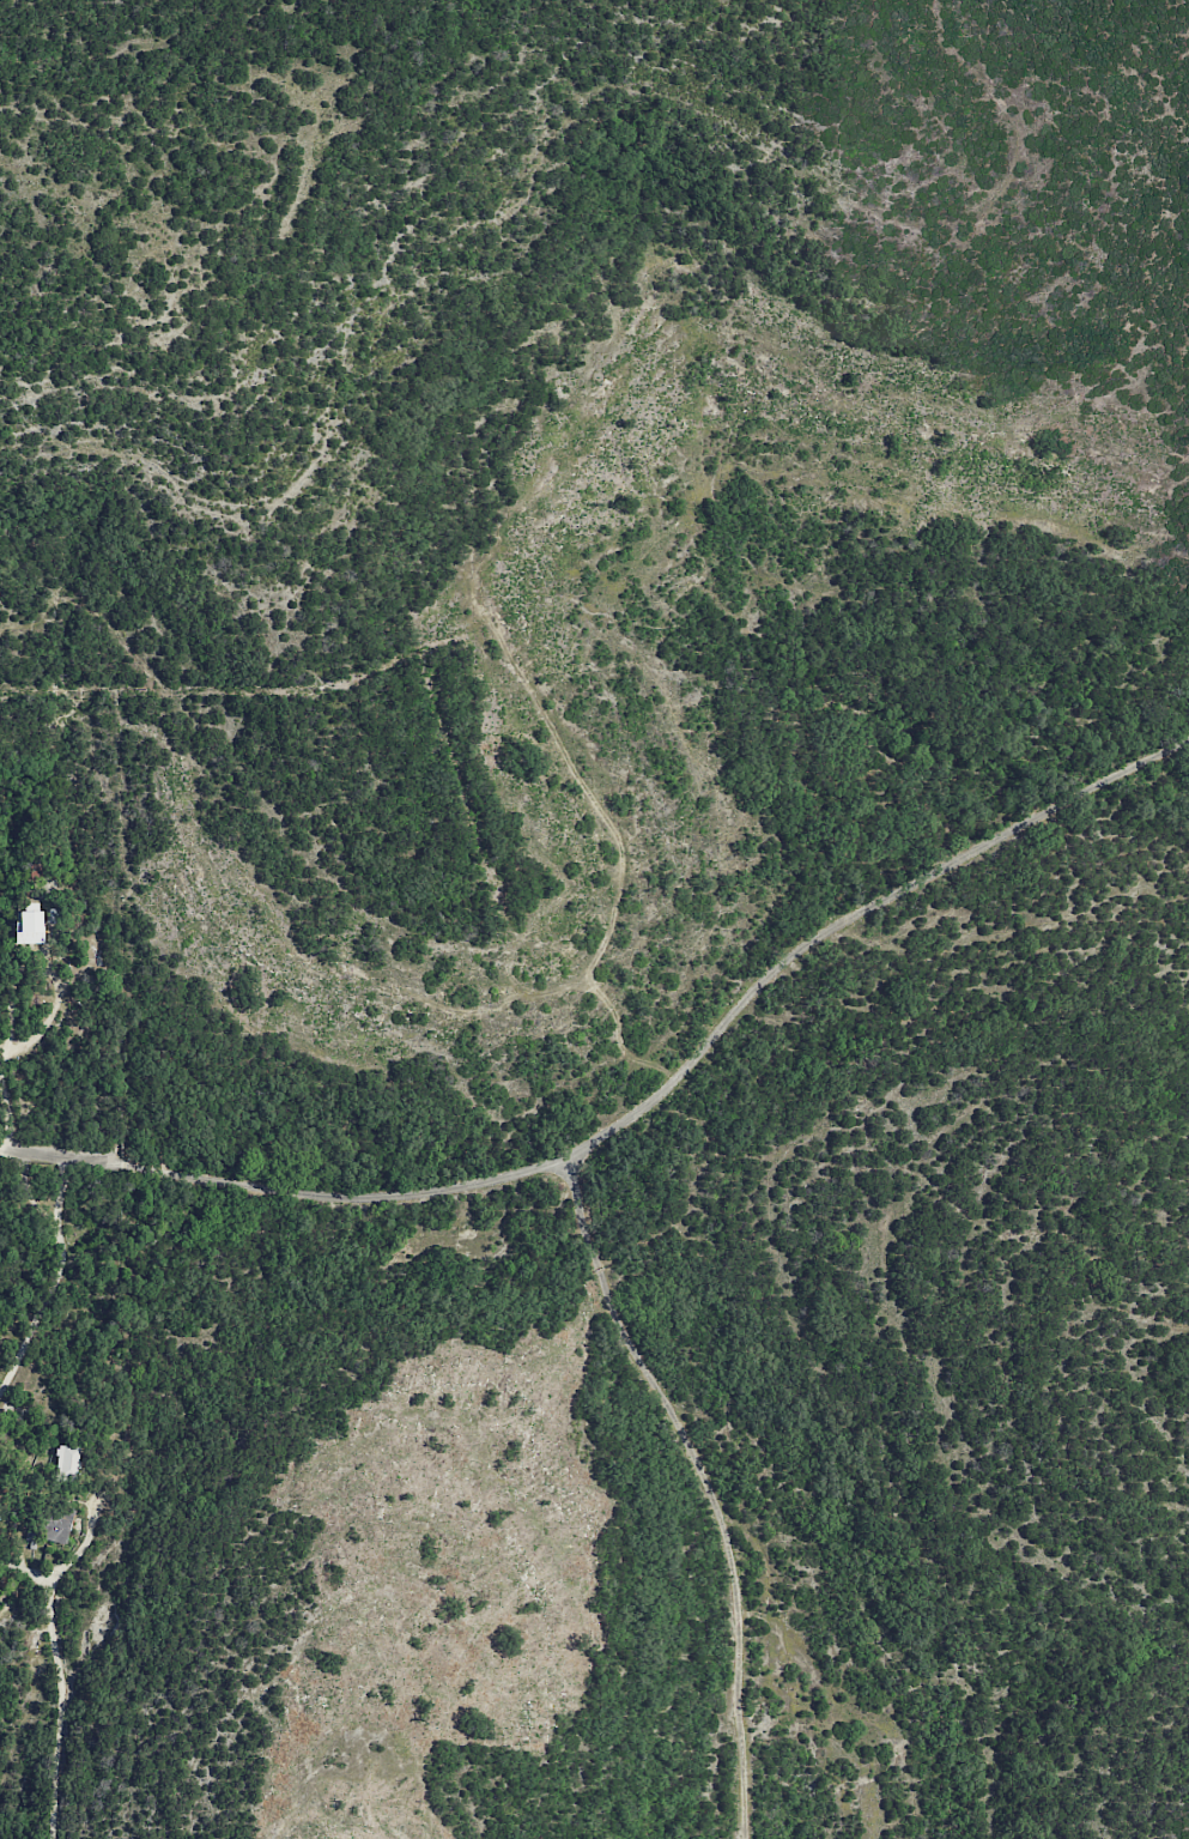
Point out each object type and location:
building: (28, 927)
road: (46, 966)
road: (4, 1051)
road: (687, 1070)
road: (7, 1109)
road: (60, 1156)
road: (55, 1278)
building: (63, 1463)
road: (709, 1484)
building: (55, 1524)
road: (60, 1683)

